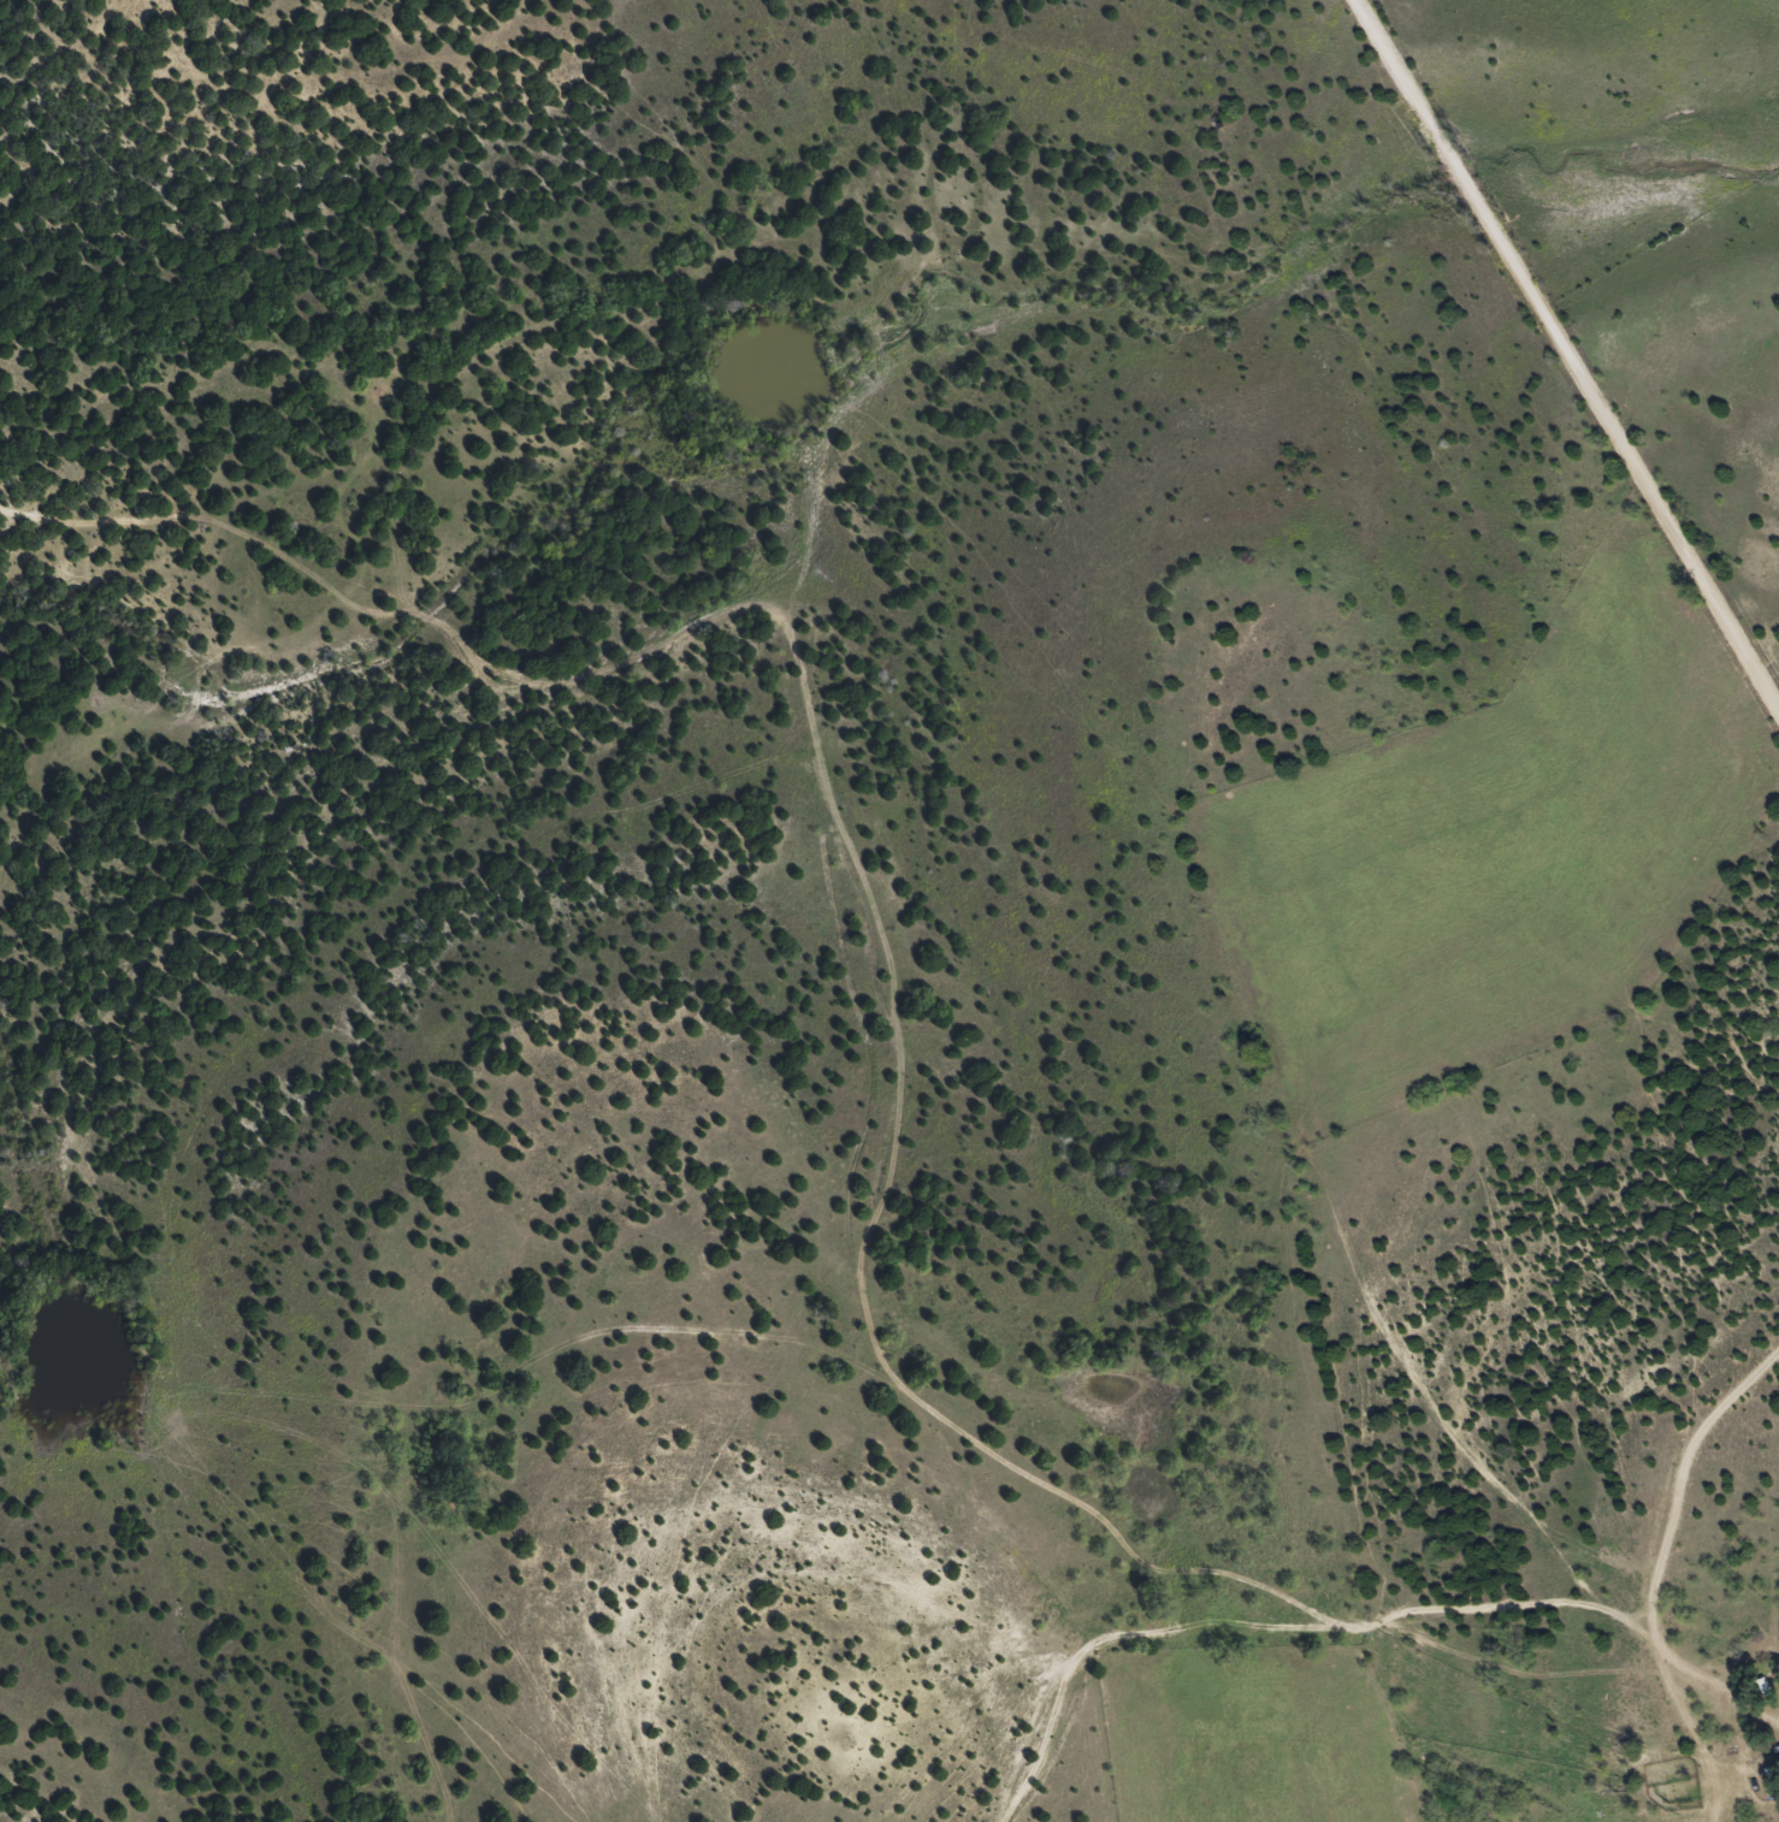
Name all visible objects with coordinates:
road: (1565, 362)

